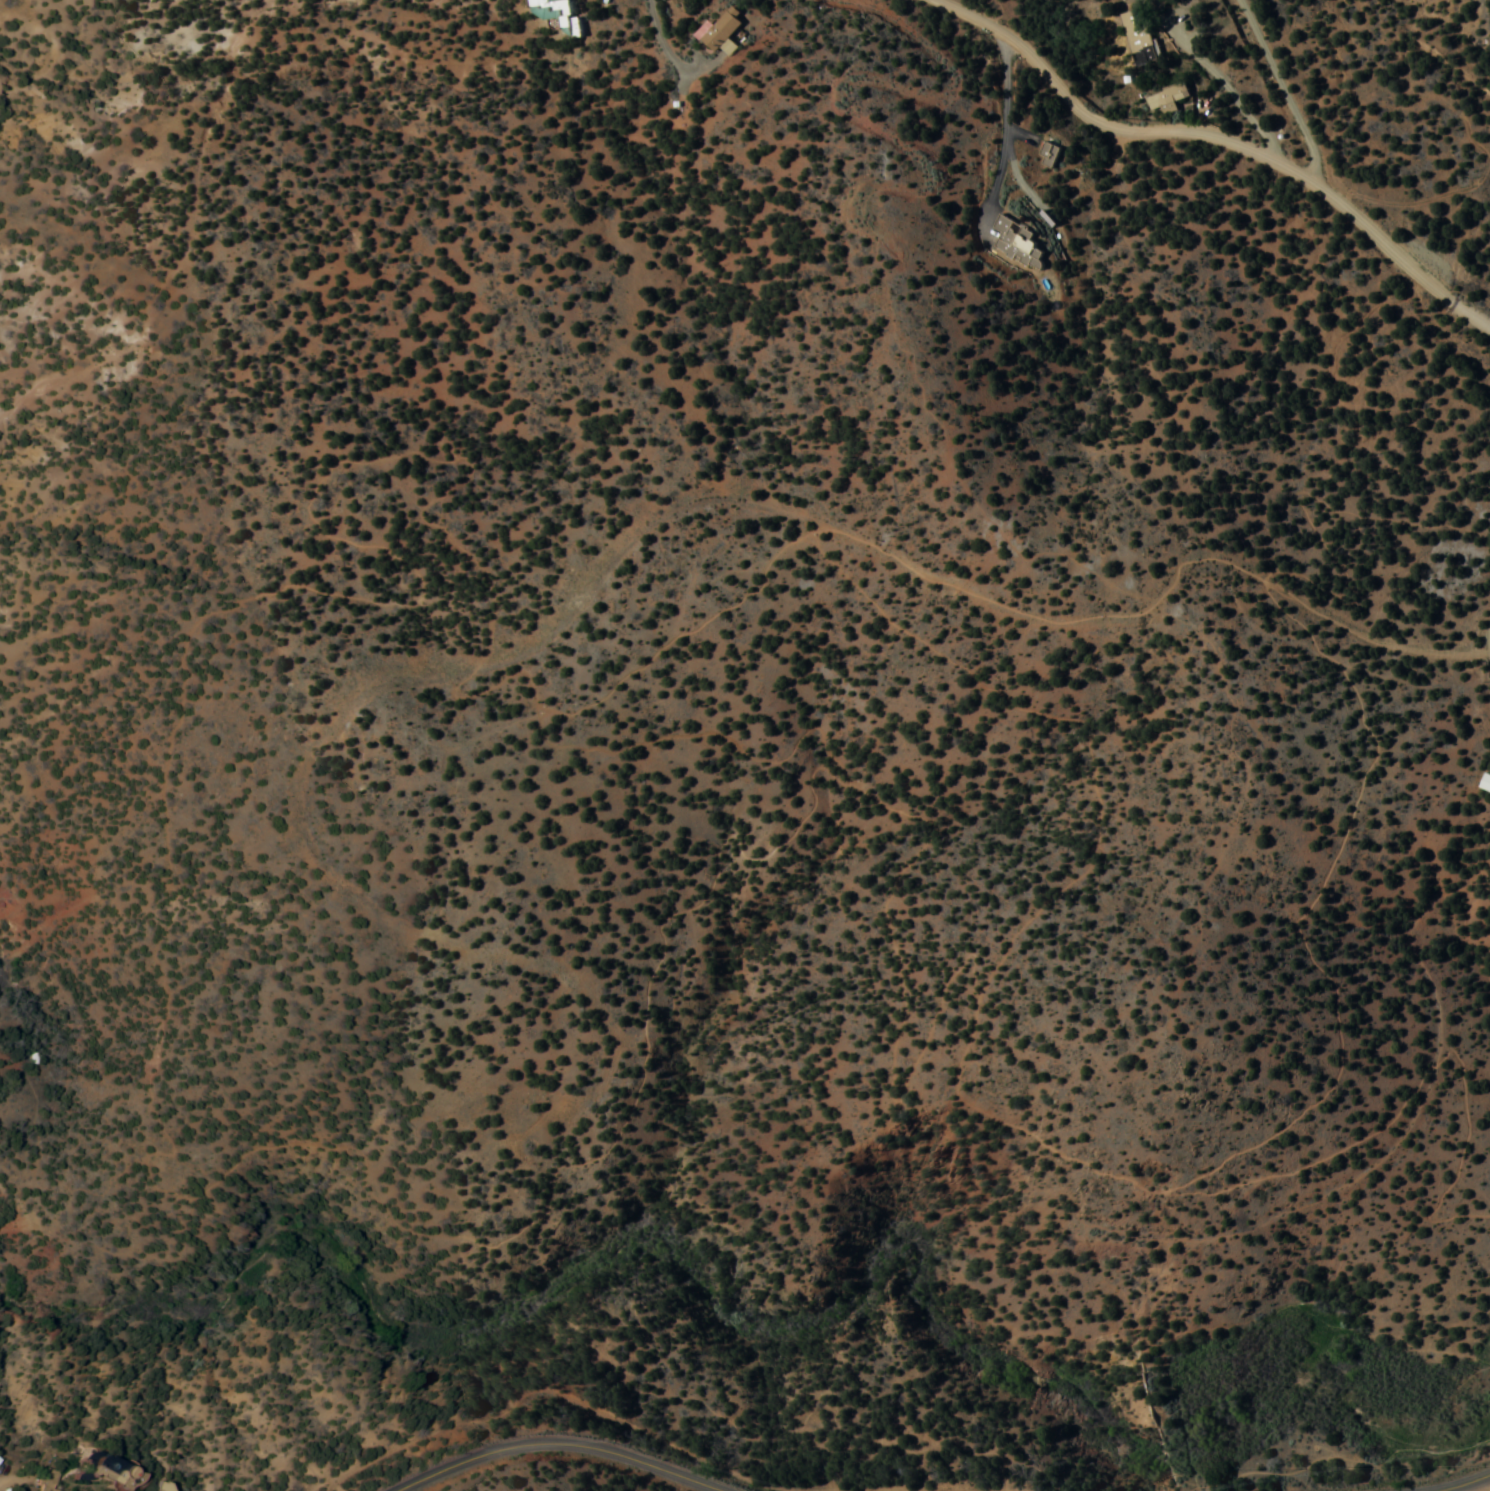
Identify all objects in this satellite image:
building: (570, 22)
building: (721, 29)
building: (1139, 40)
road: (1281, 88)
building: (1167, 97)
road: (1221, 138)
building: (1049, 153)
building: (1018, 242)
building: (1488, 777)
park: (786, 859)
dam: (1179, 1418)
road: (557, 1443)
building: (109, 1472)
building: (45, 1481)
road: (1460, 1484)
building: (156, 1486)

